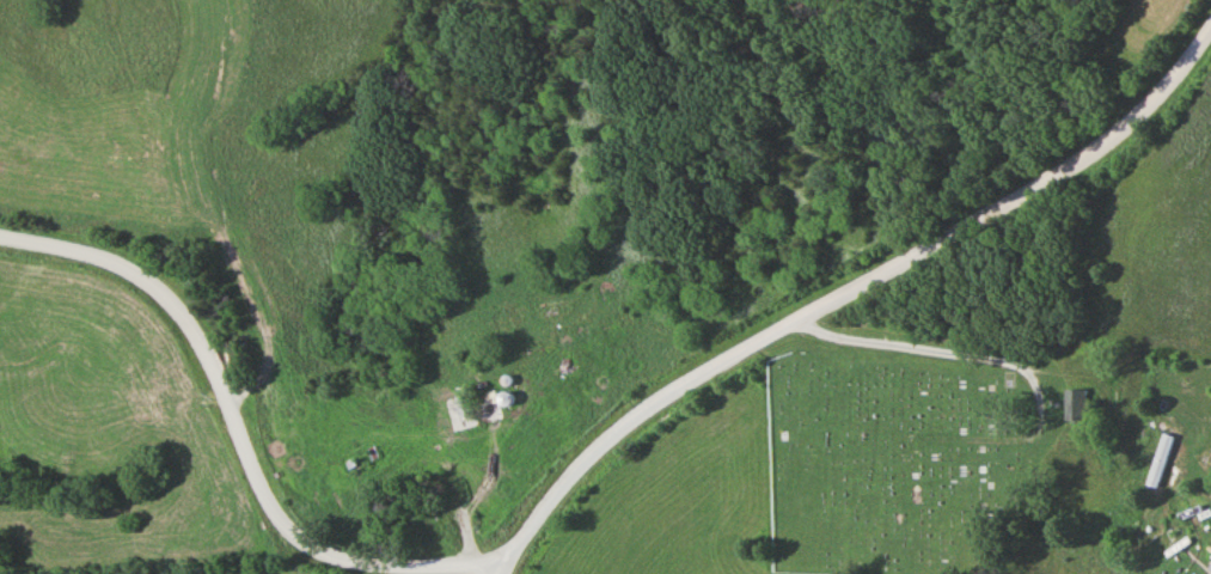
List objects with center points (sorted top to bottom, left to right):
road: (850, 292)
building: (1078, 404)
road: (241, 430)
park: (900, 458)
building: (1210, 566)

